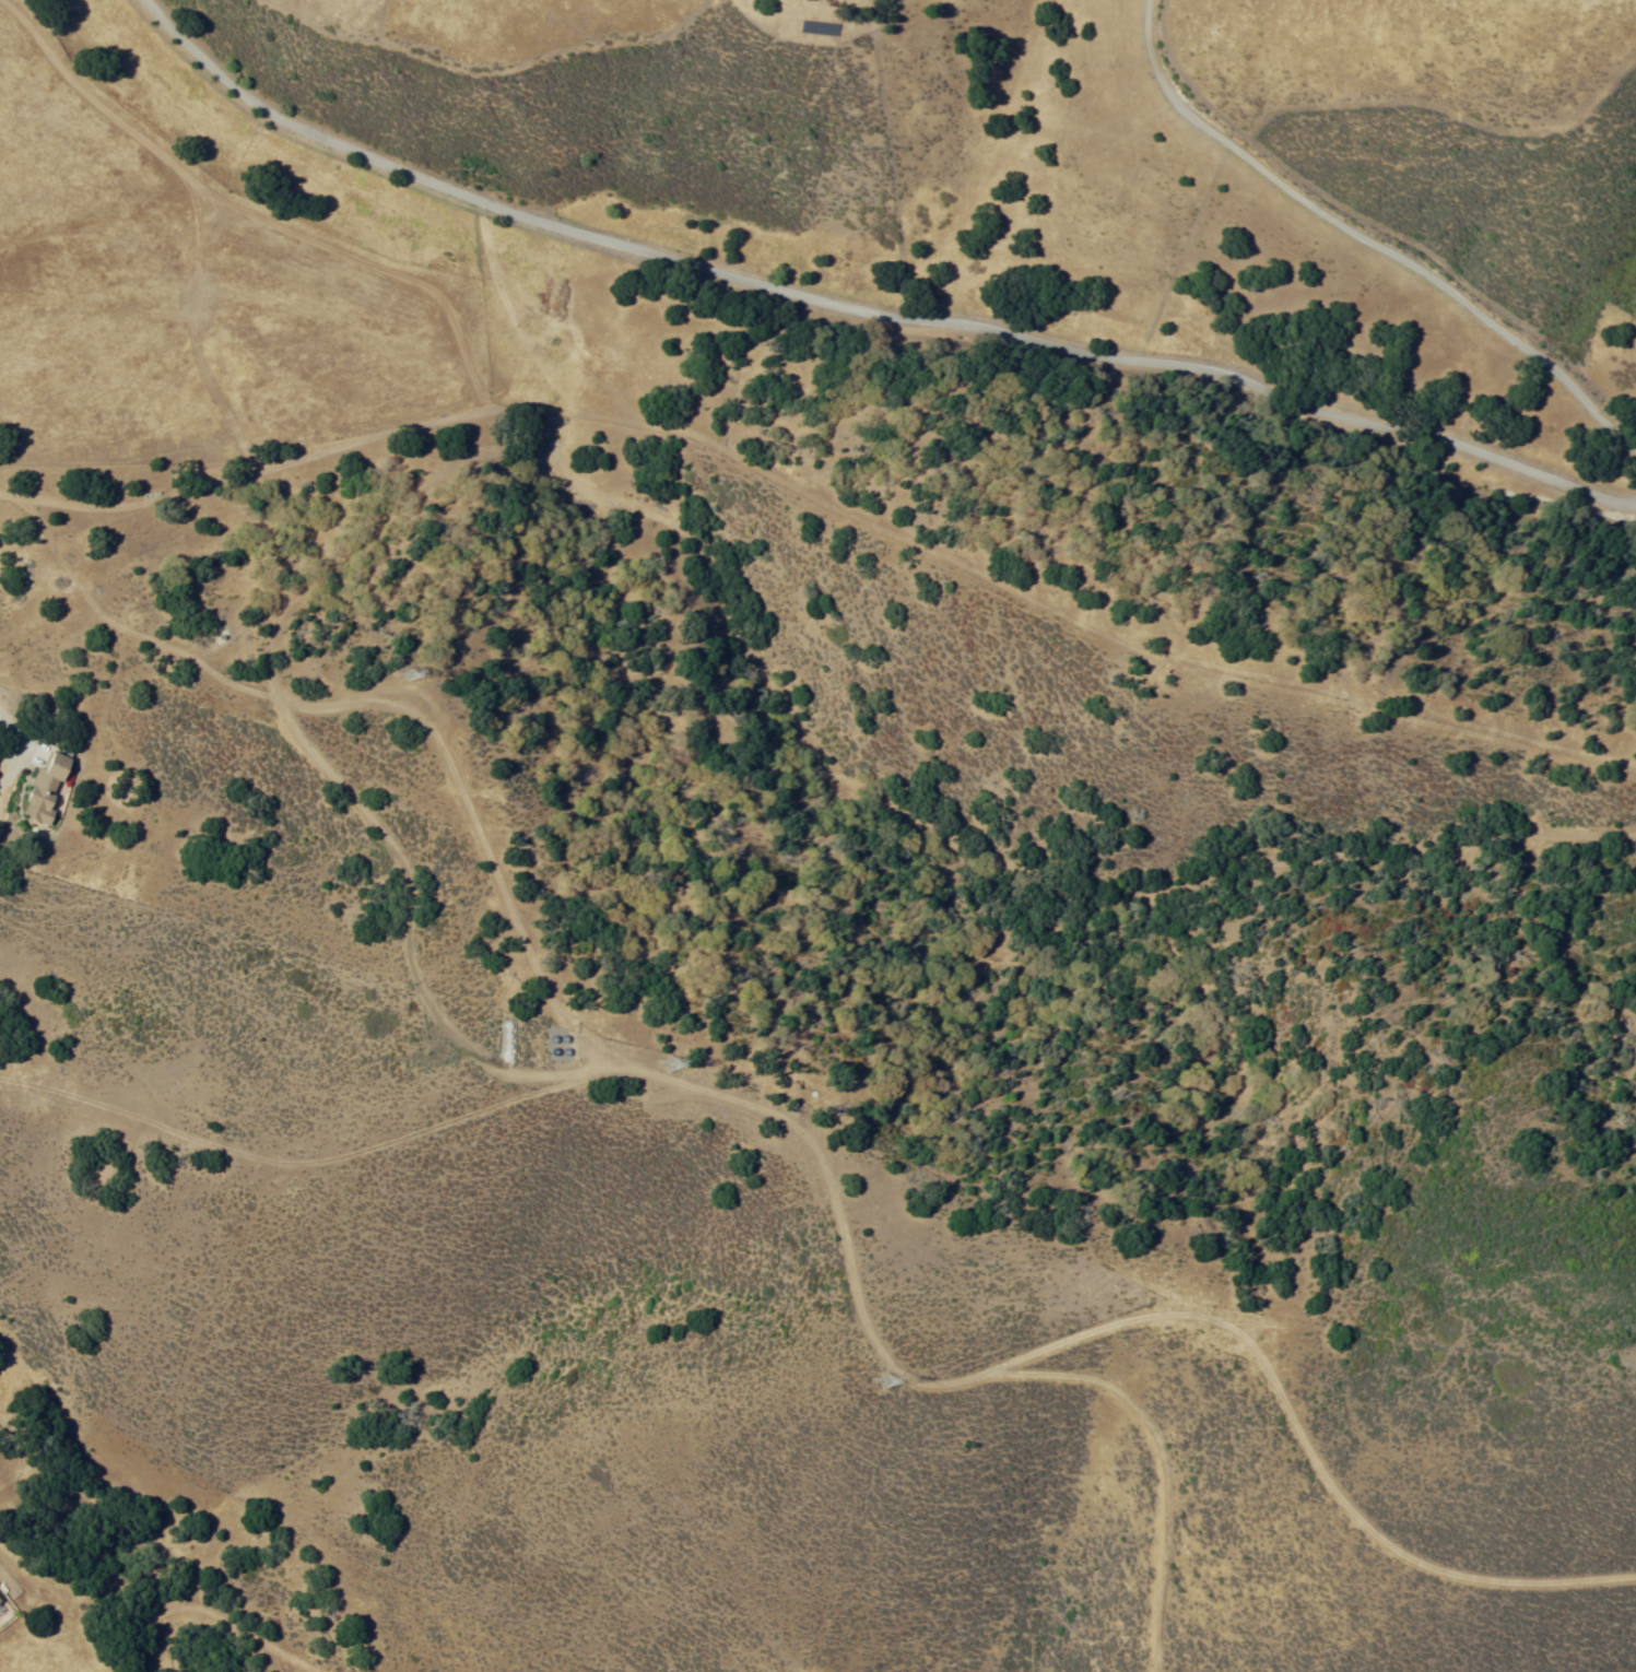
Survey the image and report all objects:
building: (820, 30)
road: (229, 81)
road: (1333, 443)
building: (403, 672)
building: (45, 790)
road: (649, 1070)

